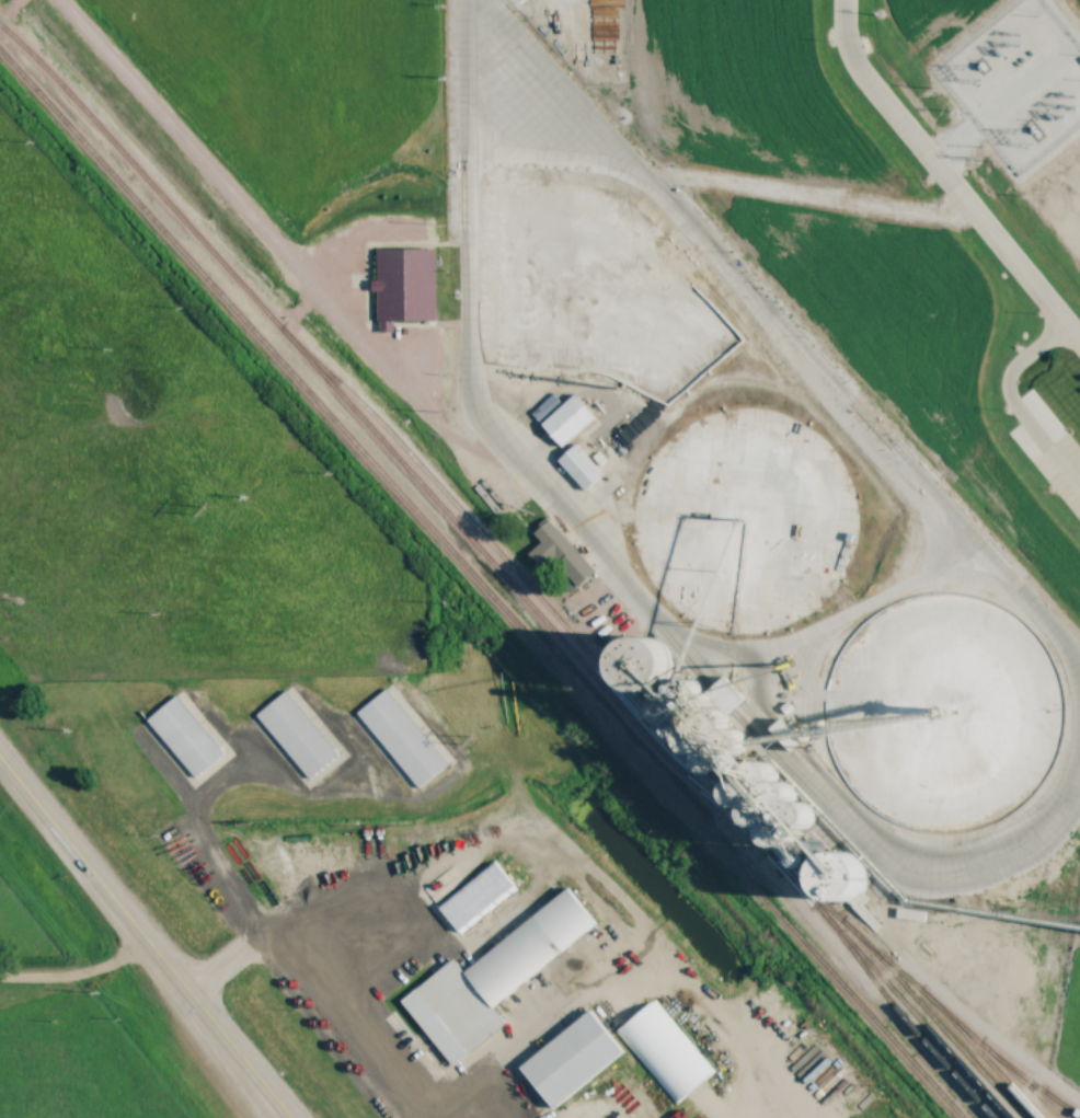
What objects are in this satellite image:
road: (1079, 41)
power substation: (1021, 81)
road: (1027, 81)
road: (955, 140)
road: (946, 177)
road: (756, 291)
building: (570, 419)
building: (581, 466)
power tower: (206, 511)
building: (560, 553)
railway: (507, 581)
power tower: (8, 596)
road: (788, 647)
building: (296, 735)
building: (183, 738)
power tower: (474, 739)
building: (399, 740)
building: (478, 897)
road: (127, 927)
road: (74, 978)
road: (329, 979)
building: (494, 979)
building: (665, 1052)
building: (573, 1059)
road: (257, 1104)
road: (262, 1104)
road: (762, 1113)

